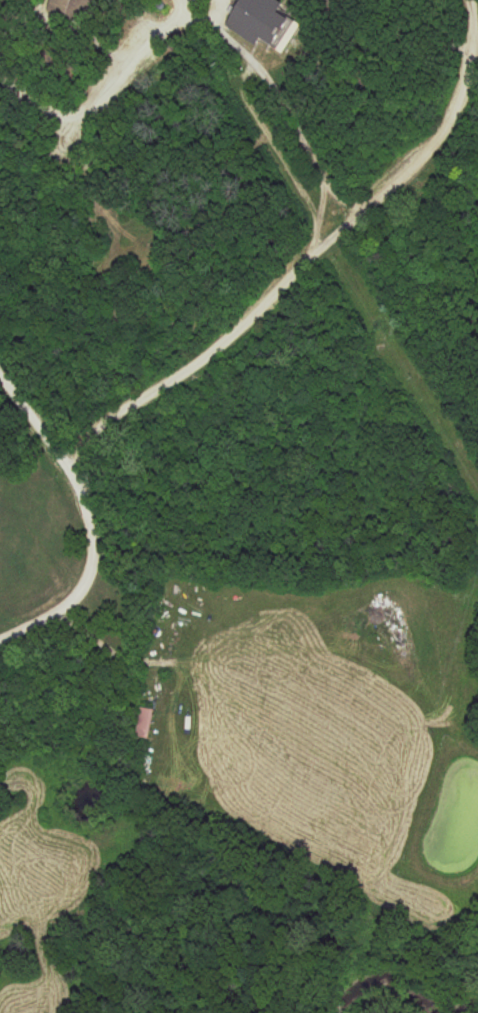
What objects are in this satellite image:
building: (74, 10)
road: (215, 16)
building: (268, 23)
road: (347, 197)
road: (228, 334)
road: (35, 401)
building: (143, 723)

